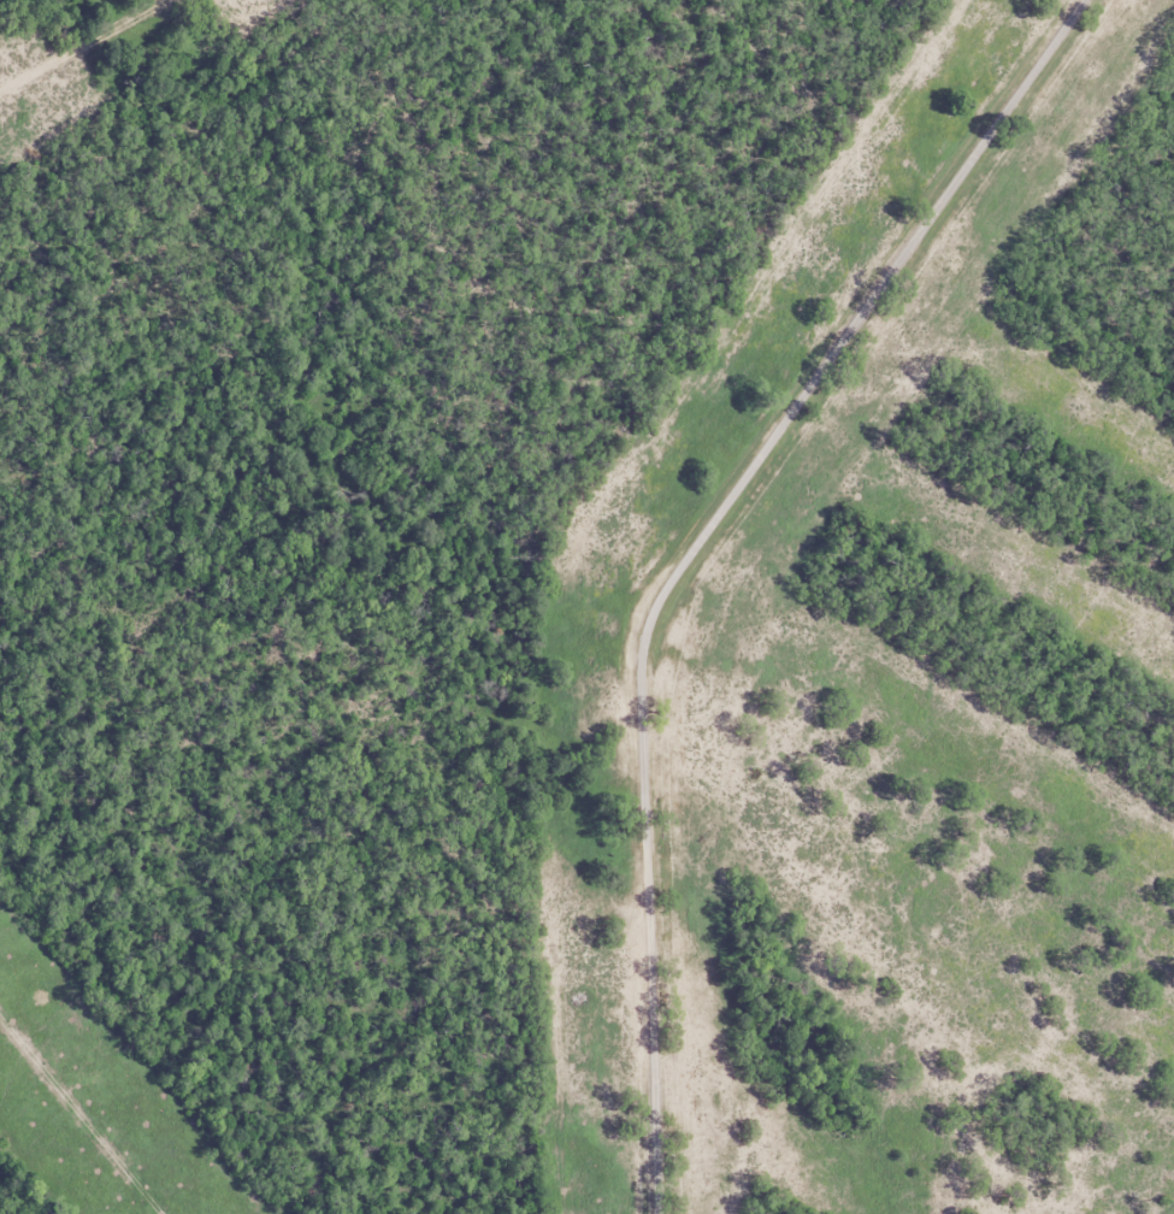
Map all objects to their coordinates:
road: (749, 566)
road: (46, 1162)

